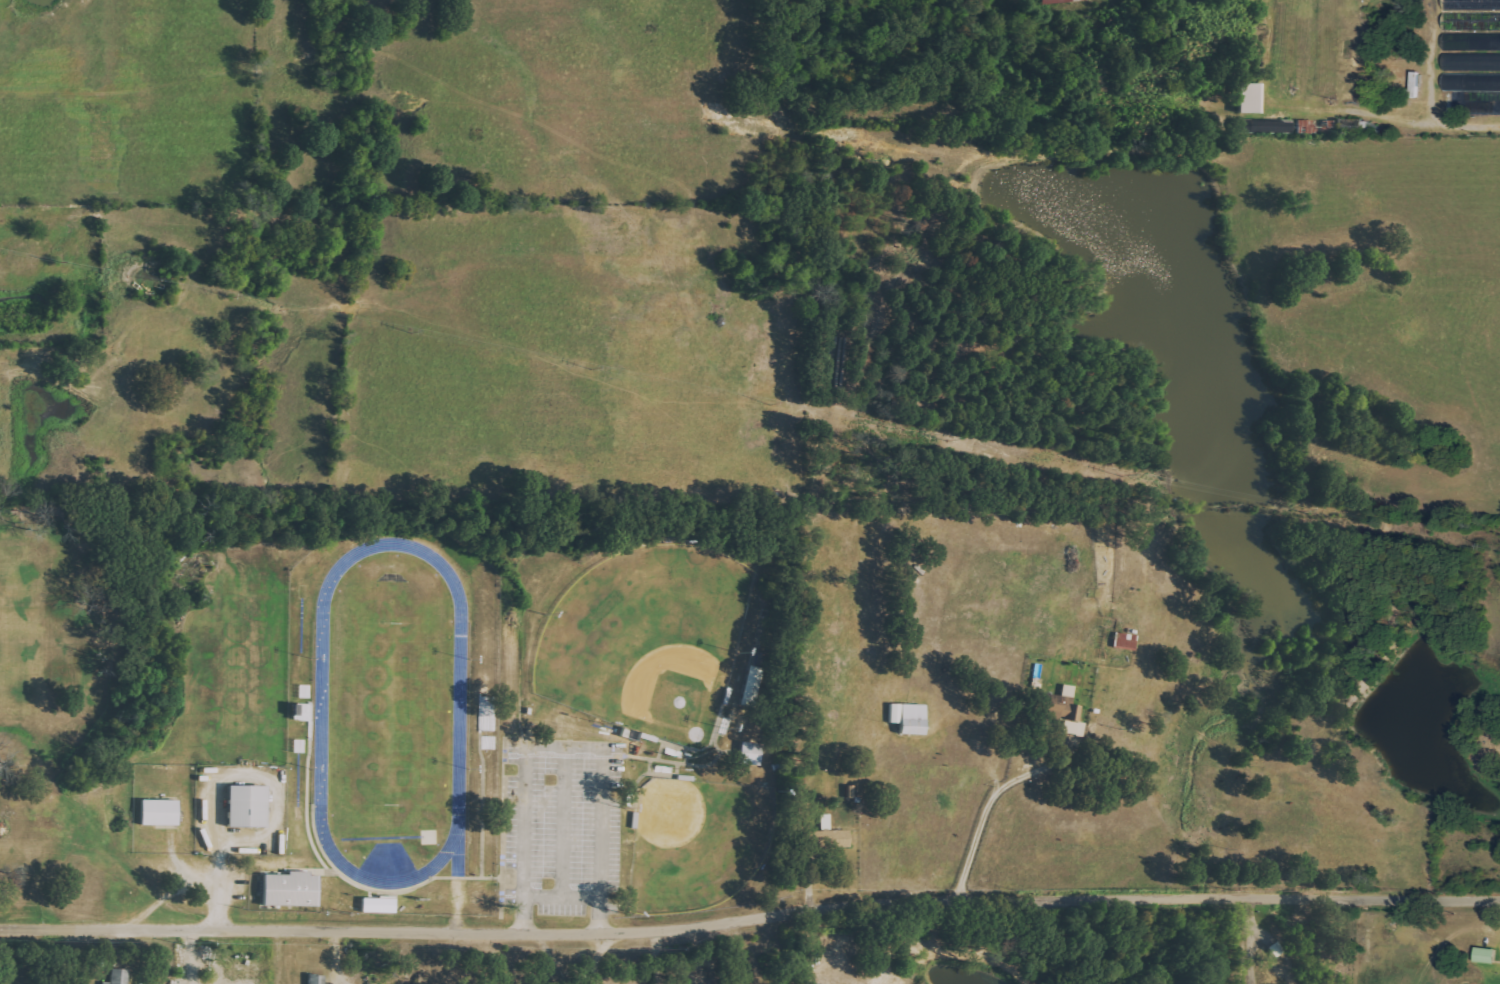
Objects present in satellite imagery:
building: (1062, 1)
building: (1470, 46)
building: (1250, 98)
road: (1466, 122)
park: (646, 639)
building: (1126, 641)
building: (752, 684)
building: (1064, 710)
building: (910, 717)
building: (751, 753)
building: (248, 806)
road: (985, 808)
building: (160, 812)
parking lot: (563, 823)
building: (292, 889)
building: (380, 905)
road: (750, 917)
building: (1277, 949)
building: (1487, 955)
road: (592, 956)
building: (119, 976)
building: (317, 979)

